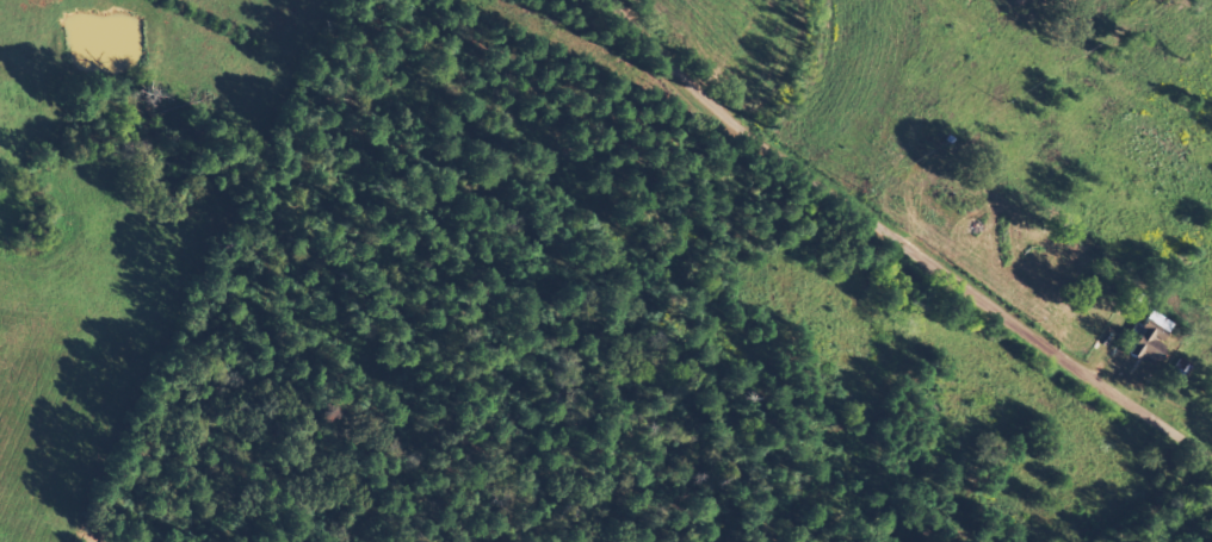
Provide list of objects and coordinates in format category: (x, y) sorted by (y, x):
road: (879, 270)

